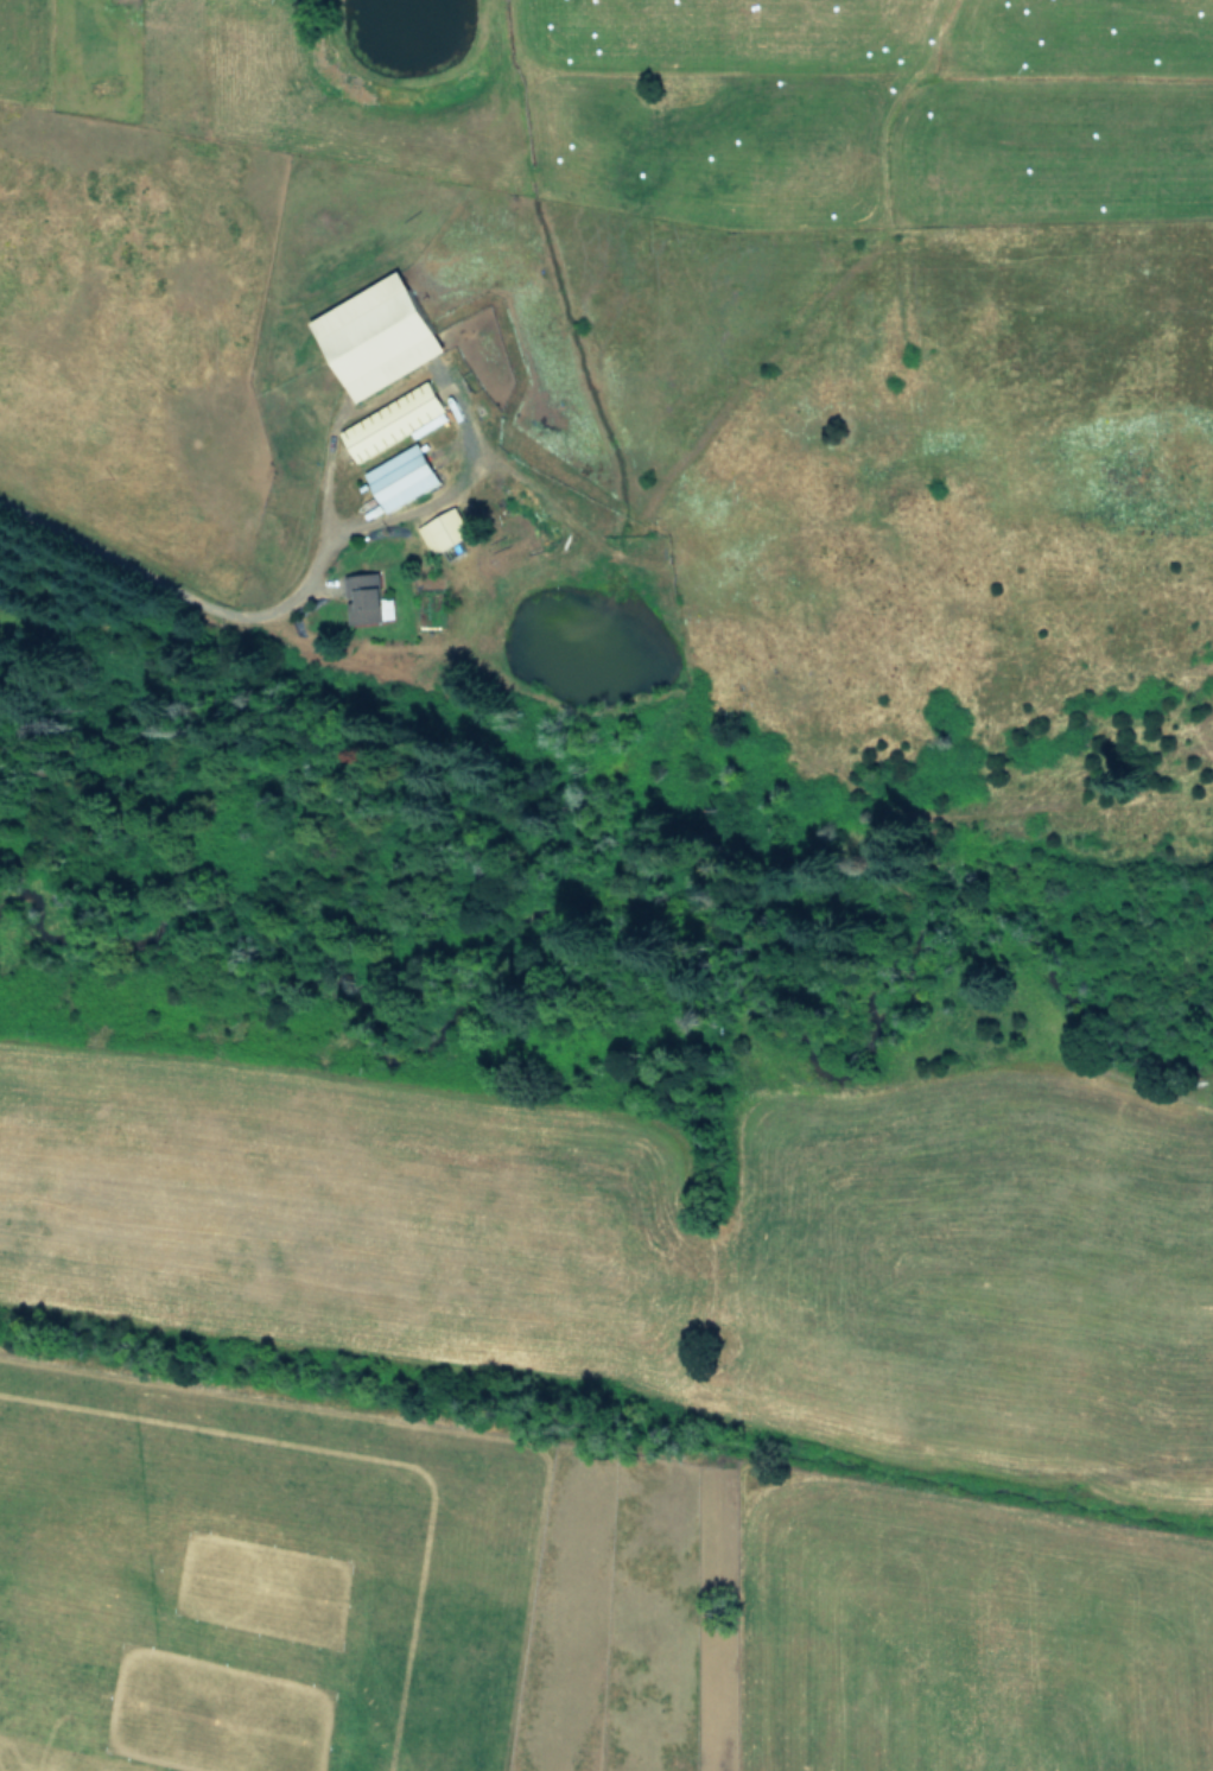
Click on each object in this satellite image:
building: (375, 335)
building: (393, 420)
building: (400, 476)
building: (443, 529)
road: (180, 591)
building: (364, 597)
crop: (601, 1426)

